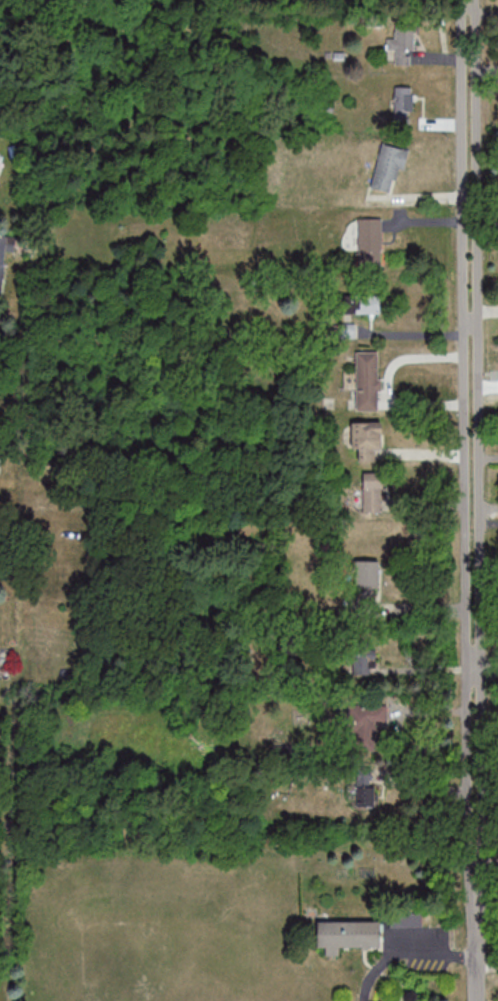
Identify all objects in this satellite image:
building: (402, 45)
park: (115, 63)
building: (404, 103)
building: (388, 166)
building: (370, 240)
building: (5, 251)
building: (360, 304)
building: (367, 380)
road: (387, 381)
building: (366, 439)
building: (372, 491)
road: (473, 500)
building: (367, 576)
building: (364, 660)
road: (486, 669)
road: (407, 711)
building: (366, 723)
building: (365, 787)
building: (405, 920)
building: (347, 936)
road: (407, 953)
park: (156, 976)

